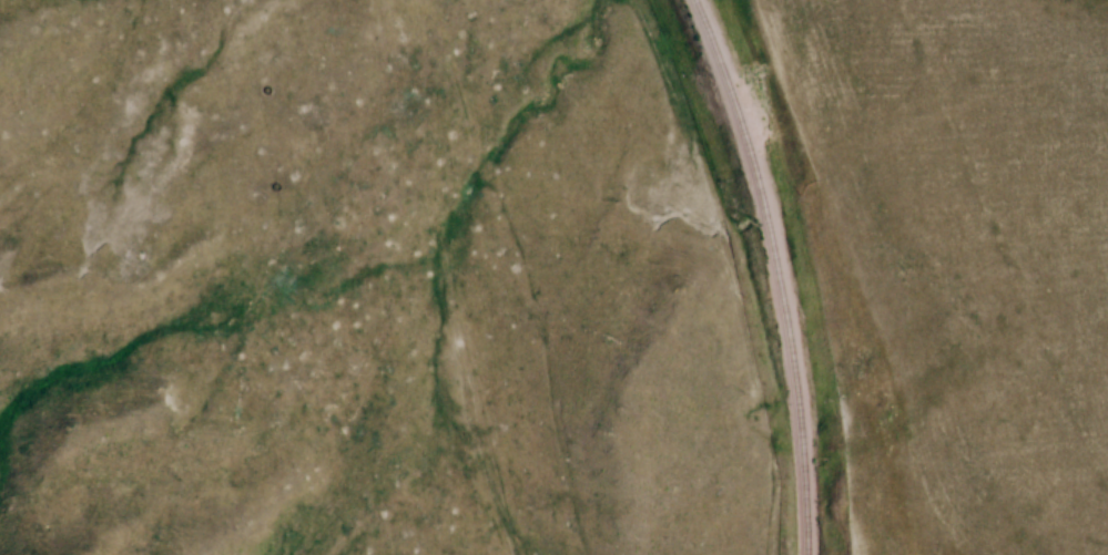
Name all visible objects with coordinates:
railway: (774, 271)

